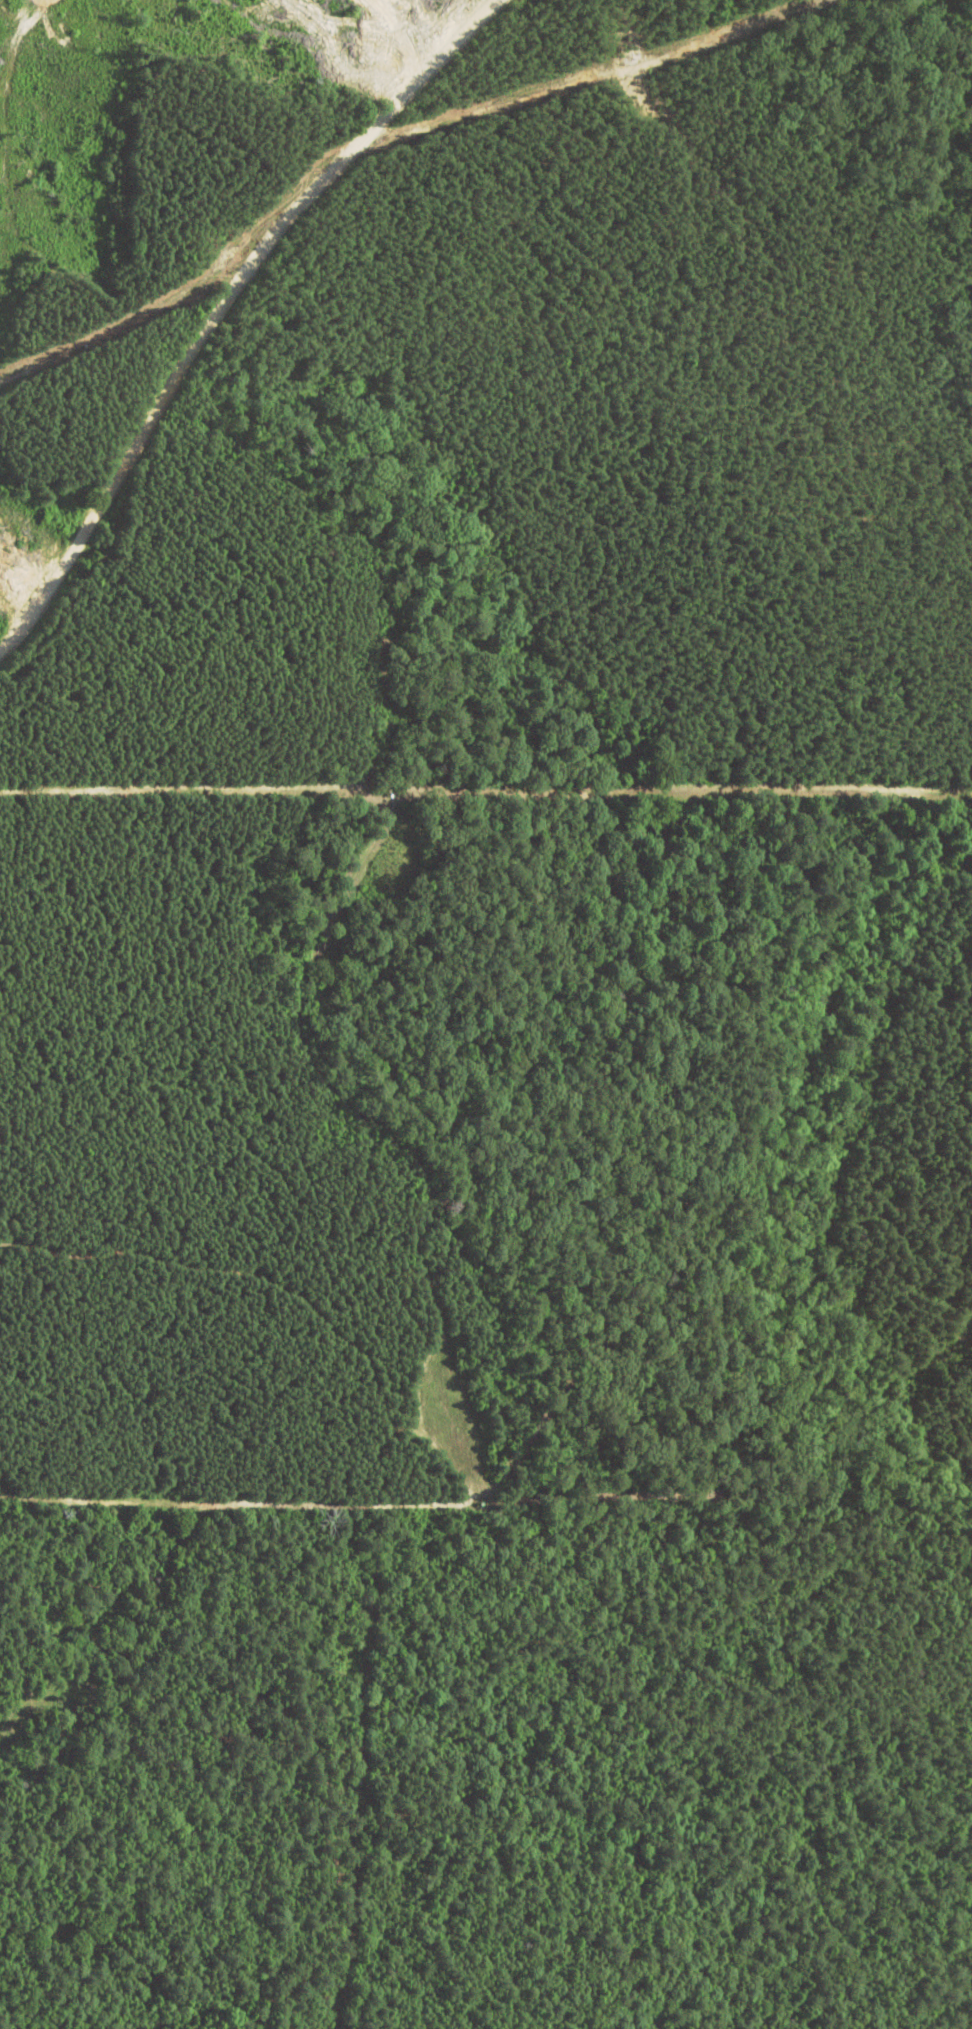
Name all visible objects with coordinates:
road: (225, 306)

